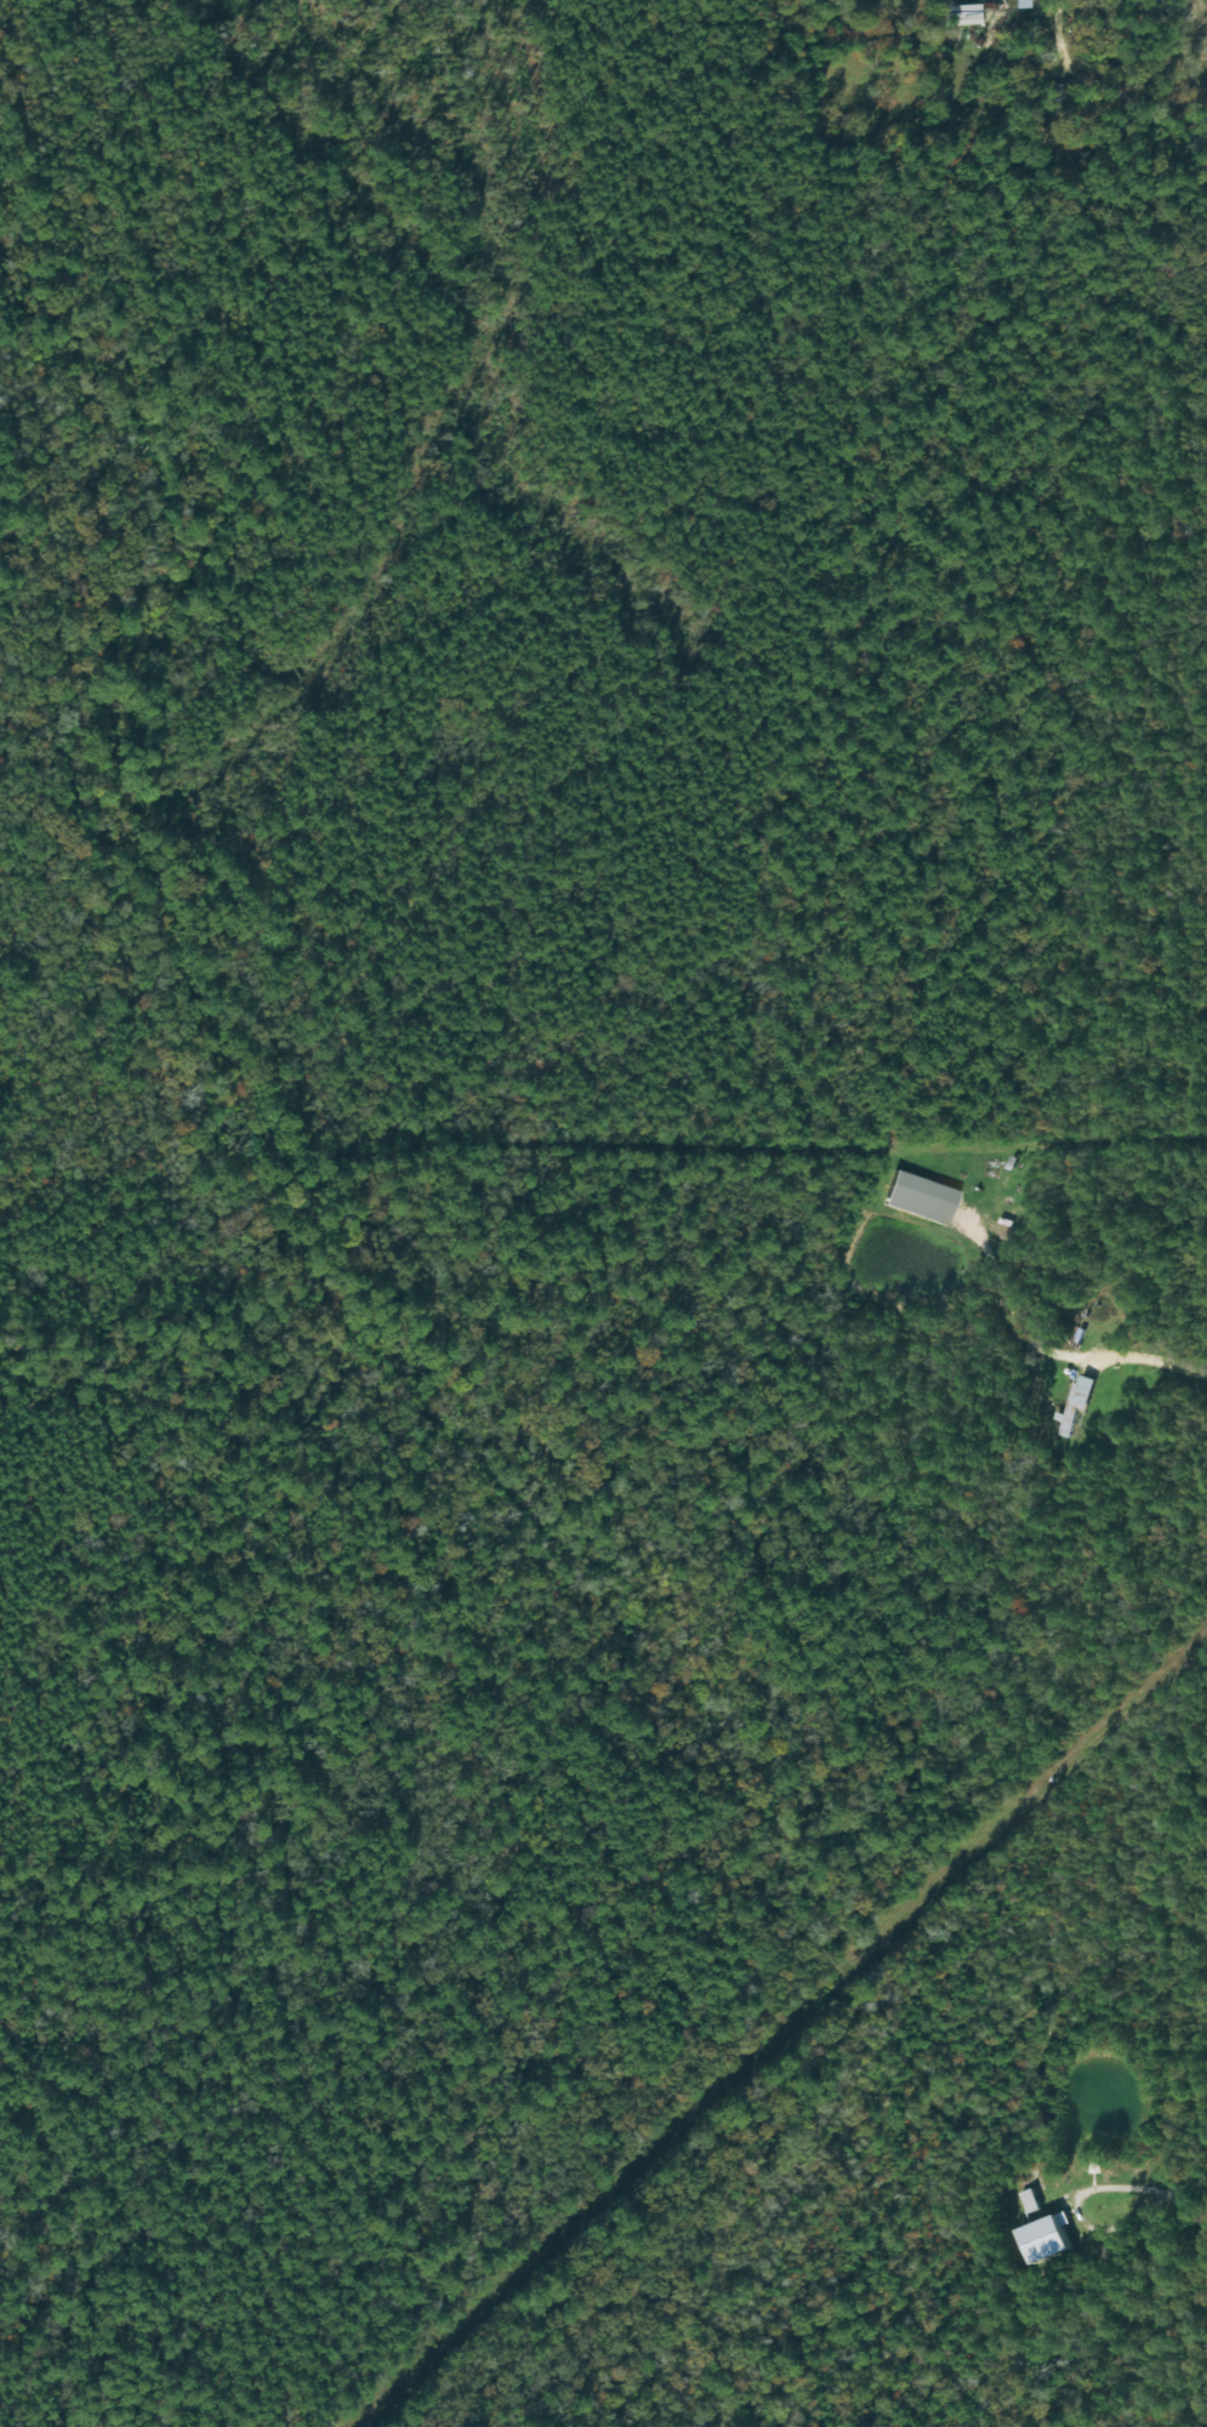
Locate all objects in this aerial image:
building: (1020, 4)
road: (1108, 87)
building: (920, 1197)
road: (1155, 1351)
building: (1026, 2200)
road: (1072, 2206)
road: (1189, 2214)
building: (1043, 2238)

